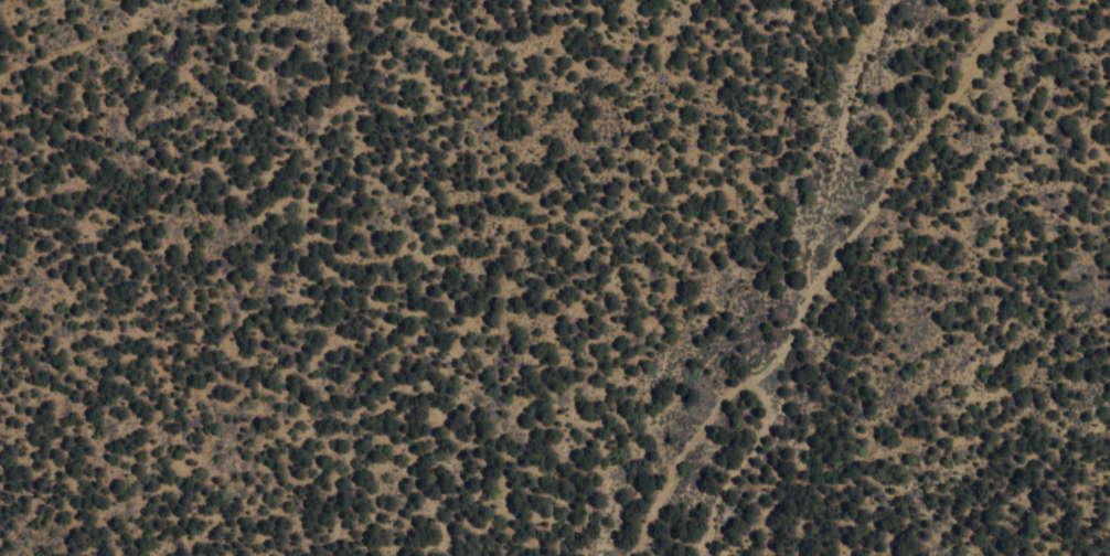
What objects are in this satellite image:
road: (751, 285)

